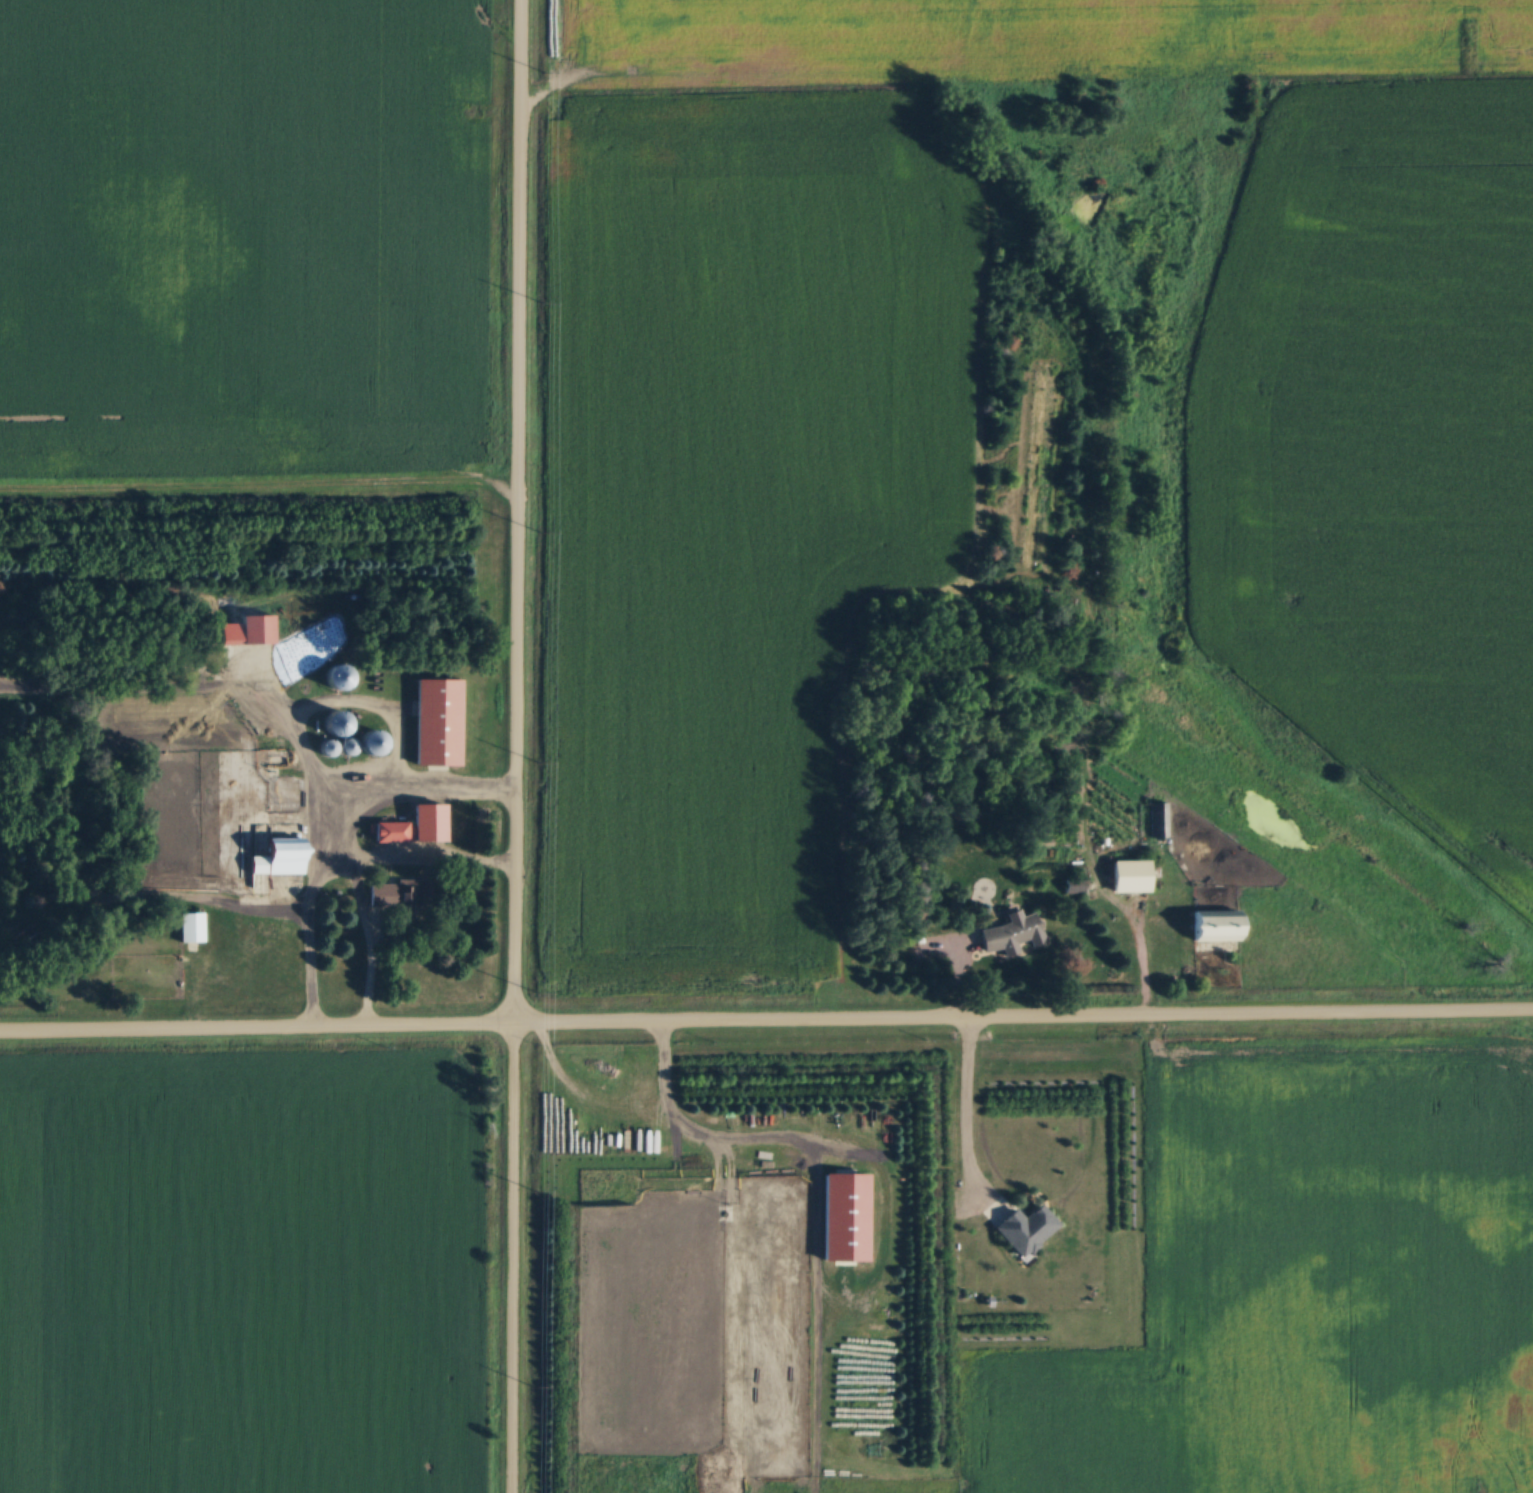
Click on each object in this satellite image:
road: (515, 511)
building: (254, 632)
building: (336, 680)
building: (435, 725)
building: (332, 726)
building: (369, 745)
road: (323, 823)
building: (1158, 823)
building: (413, 828)
road: (410, 860)
building: (277, 861)
building: (1128, 879)
building: (398, 898)
building: (1212, 929)
building: (190, 930)
building: (1009, 934)
road: (361, 942)
road: (766, 1019)
road: (963, 1112)
road: (694, 1130)
road: (511, 1258)

